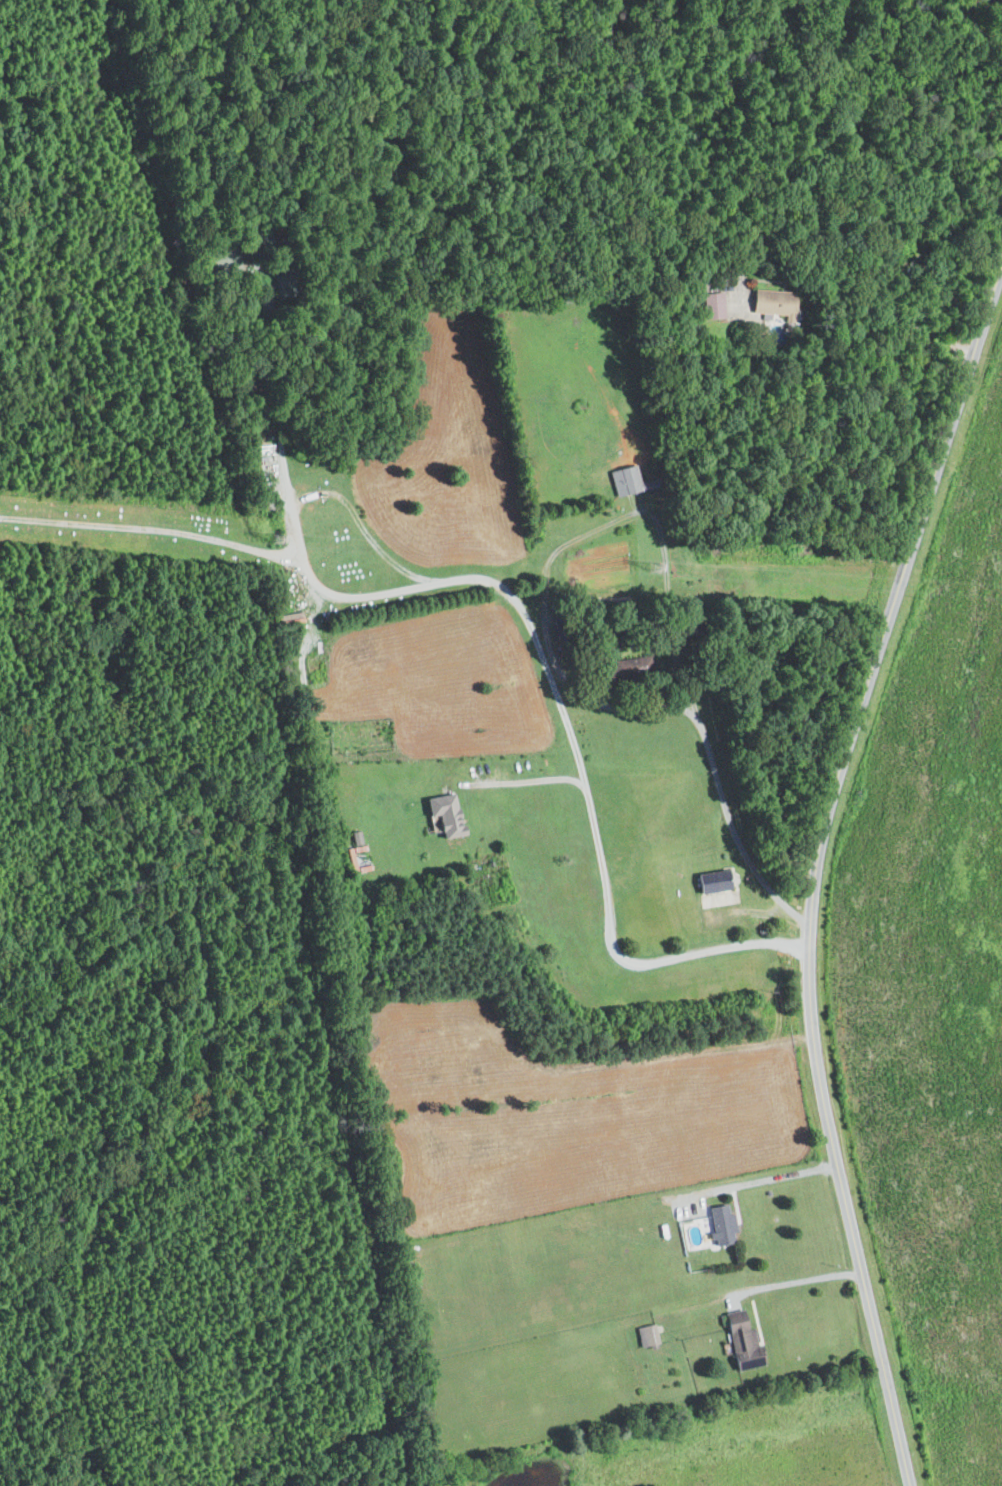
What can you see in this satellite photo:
road: (844, 239)
building: (288, 283)
building: (776, 302)
building: (625, 480)
road: (661, 541)
power tower: (276, 543)
road: (366, 597)
building: (562, 631)
building: (448, 814)
road: (817, 869)
building: (715, 881)
road: (608, 914)
road: (756, 1181)
building: (723, 1225)
road: (793, 1280)
building: (648, 1335)
building: (744, 1342)

